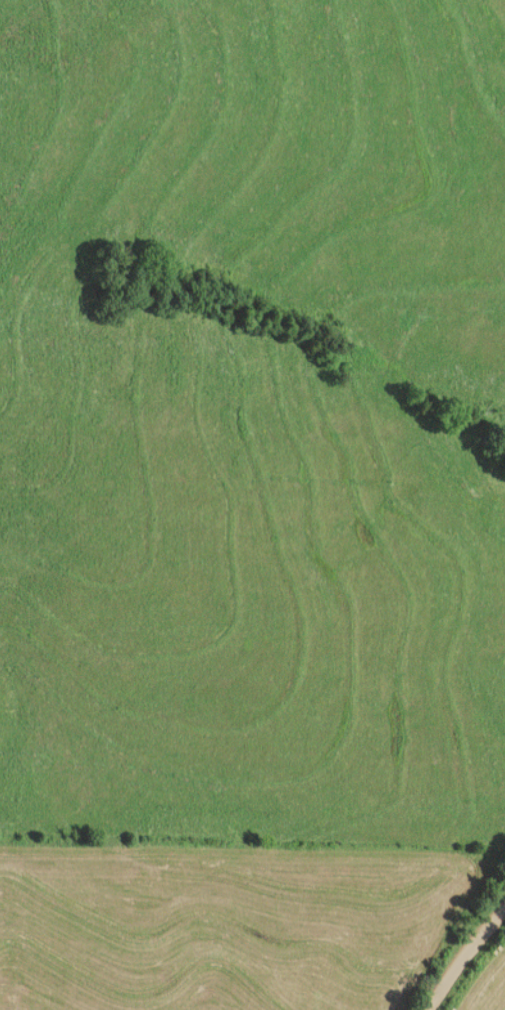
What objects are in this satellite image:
road: (463, 957)

